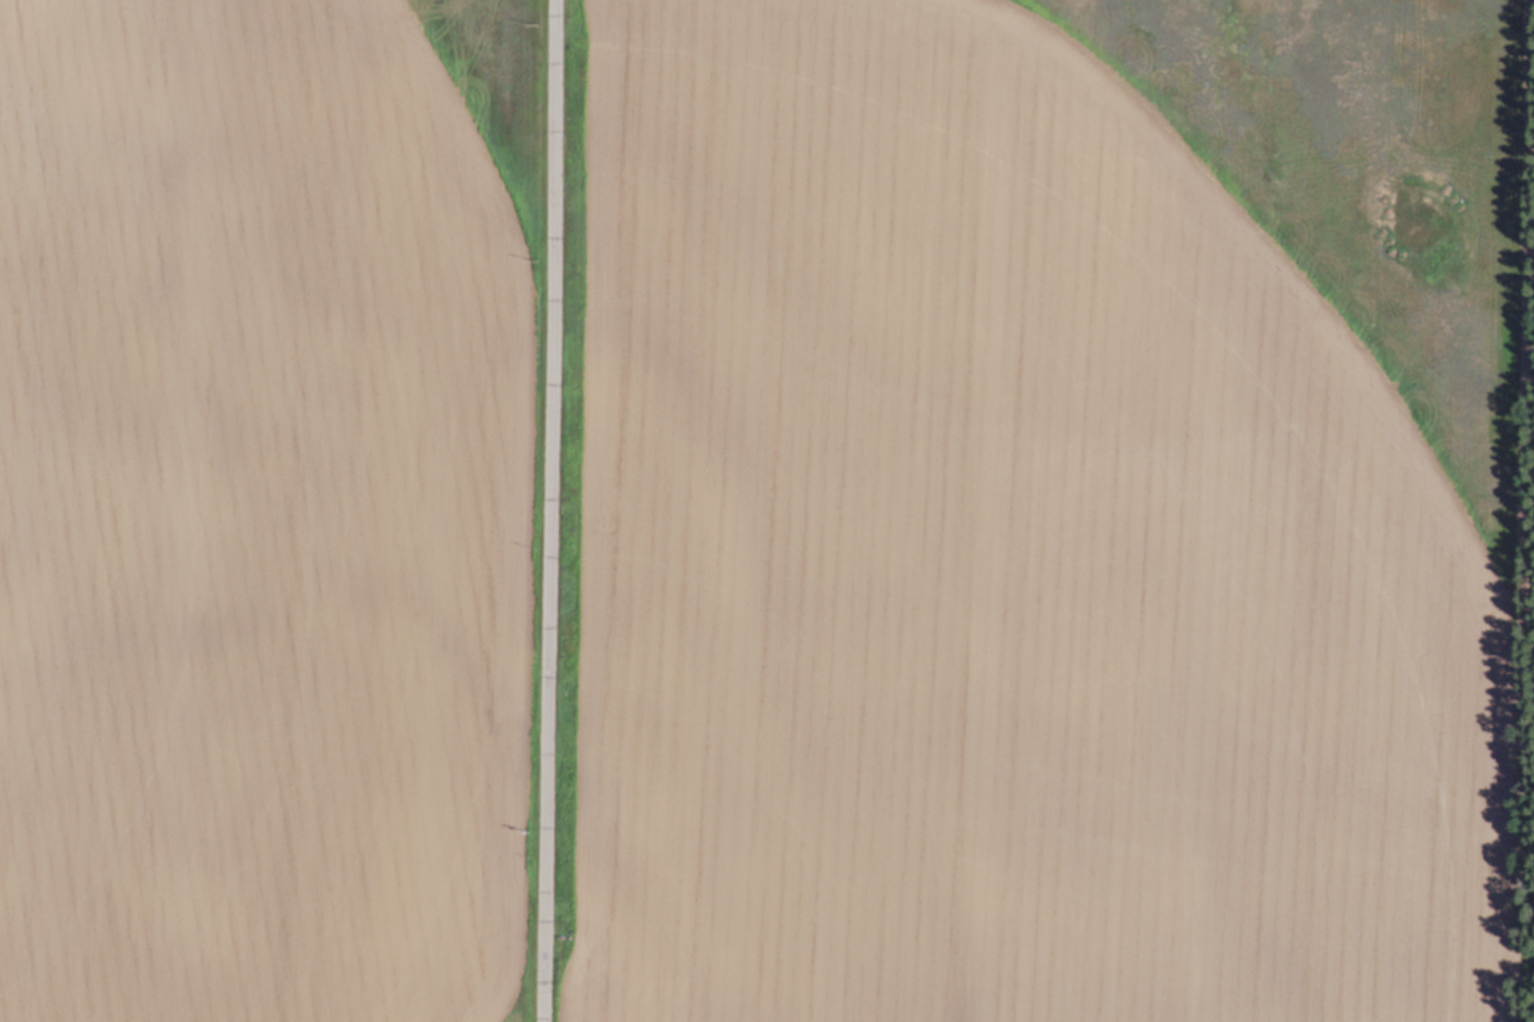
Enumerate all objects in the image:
crop: (754, 510)
road: (552, 511)
road: (1522, 542)
road: (1523, 959)

